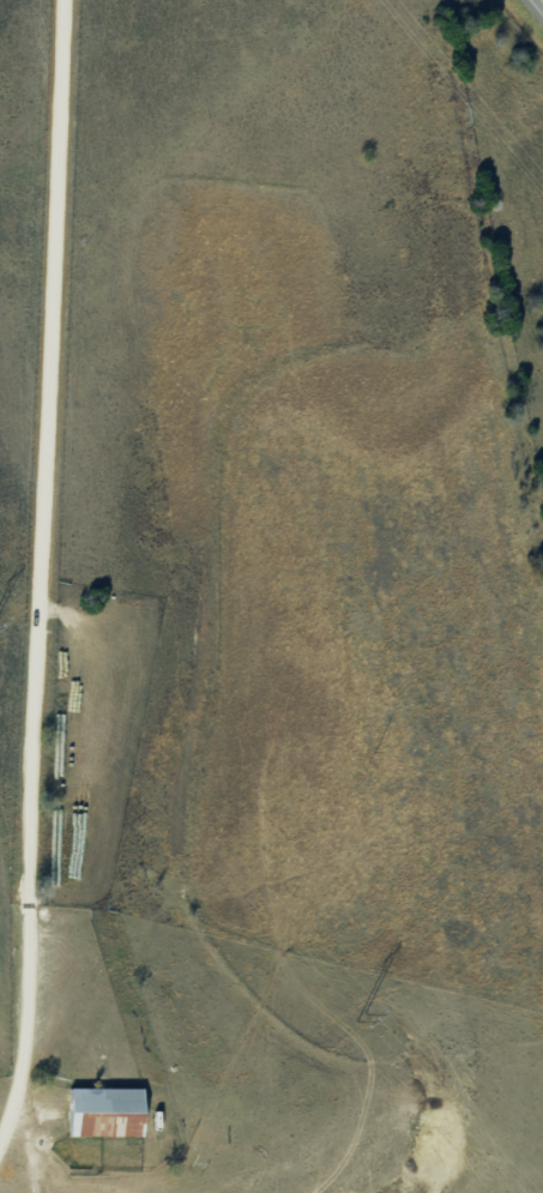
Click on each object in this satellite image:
road: (73, 596)
power tower: (361, 1017)
building: (105, 1101)

